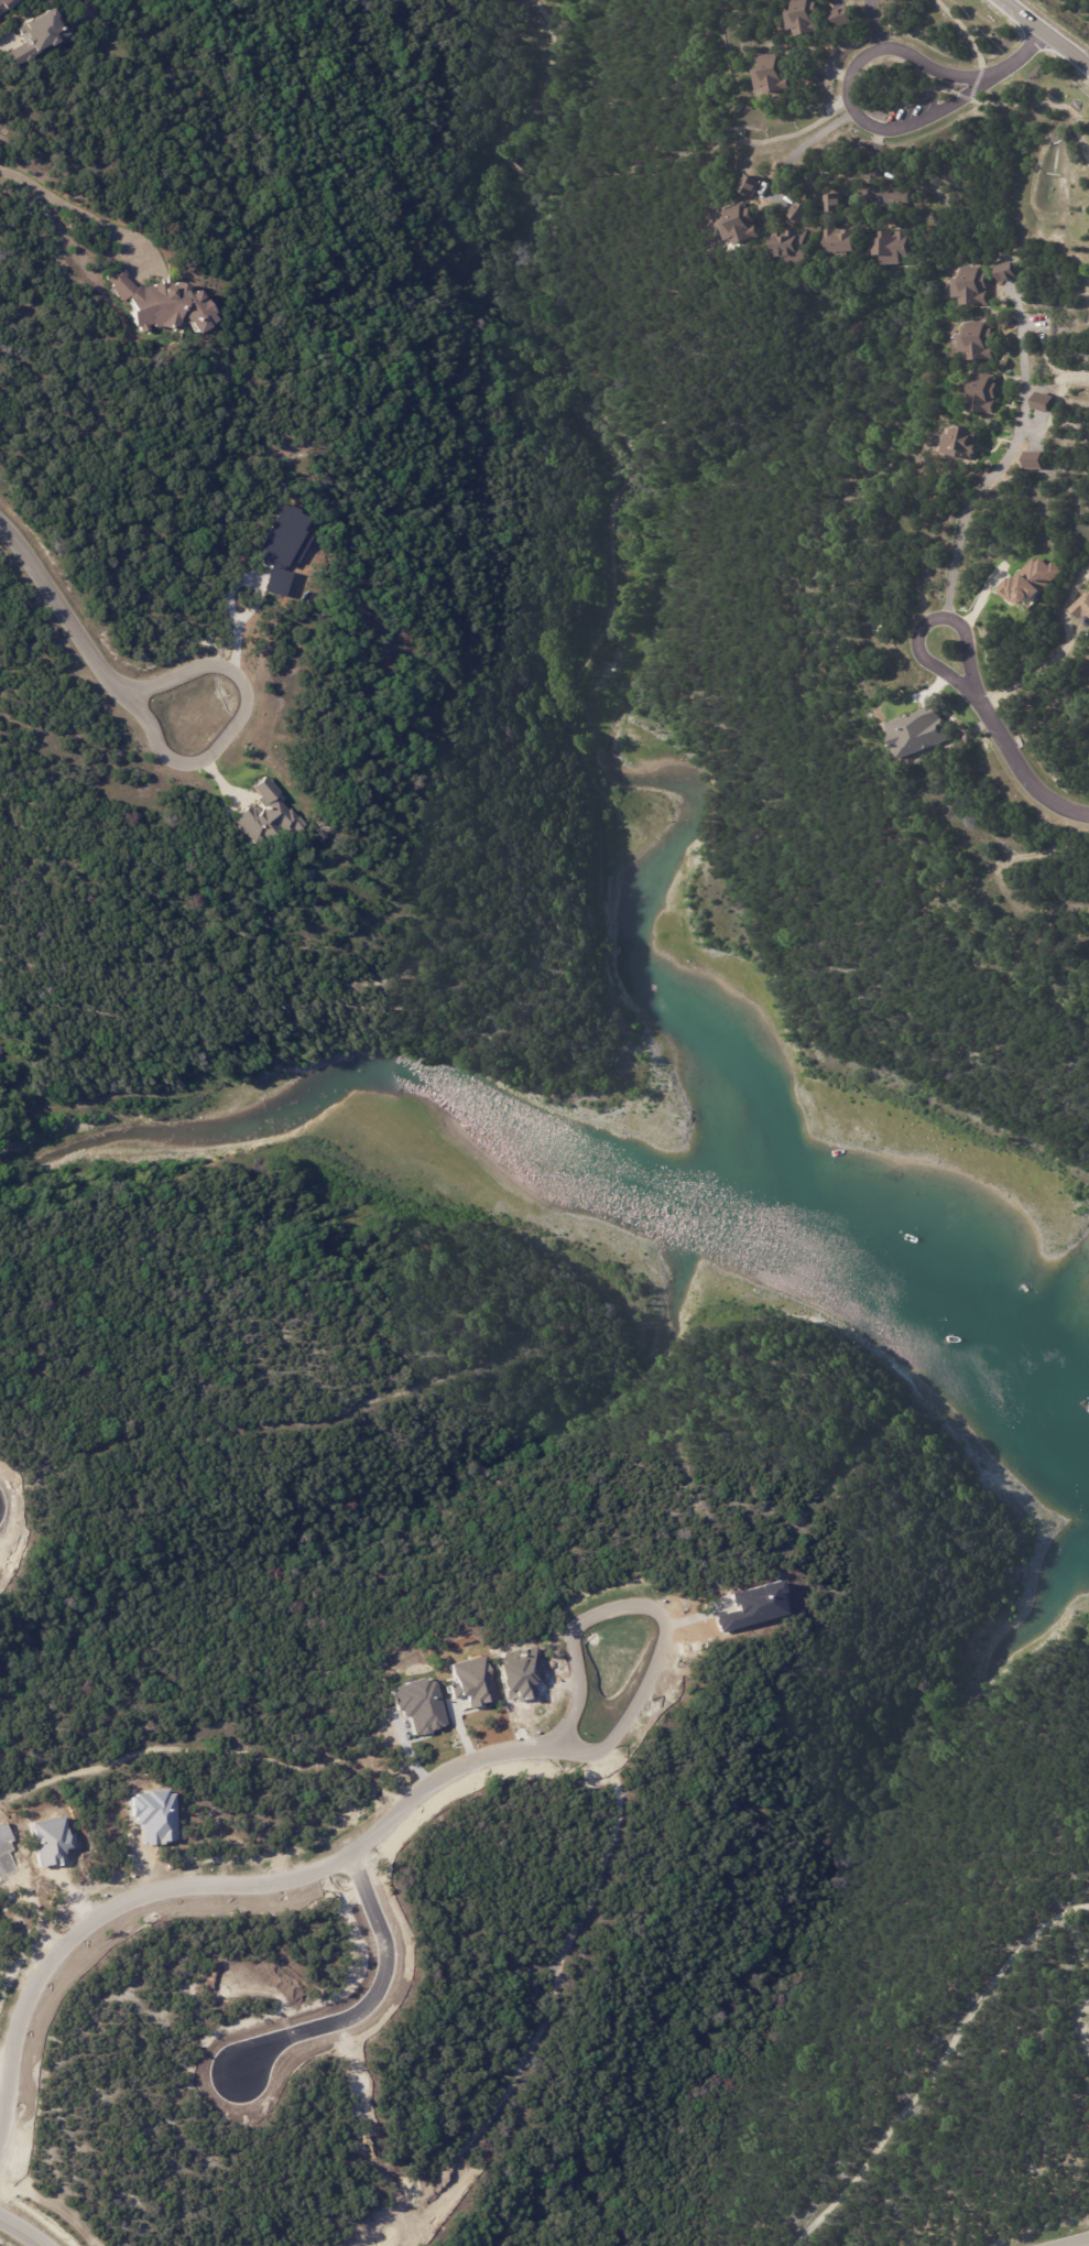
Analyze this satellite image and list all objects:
building: (8, 6)
building: (849, 15)
building: (810, 17)
road: (874, 24)
road: (1046, 34)
building: (35, 35)
road: (7, 37)
road: (1024, 56)
building: (778, 74)
road: (852, 94)
road: (805, 142)
road: (873, 161)
building: (756, 184)
building: (905, 196)
road: (64, 202)
building: (839, 202)
building: (807, 211)
building: (749, 225)
building: (849, 242)
building: (896, 246)
building: (802, 248)
building: (1011, 272)
building: (977, 286)
building: (162, 303)
building: (983, 341)
road: (1075, 377)
building: (987, 393)
building: (1048, 402)
building: (966, 442)
road: (1003, 458)
building: (1038, 460)
building: (1037, 582)
road: (63, 608)
building: (1085, 609)
road: (926, 623)
road: (237, 631)
road: (1046, 664)
road: (236, 724)
road: (1020, 767)
building: (266, 816)
building: (2, 1050)
road: (411, 1809)
road: (21, 2233)
road: (1071, 2242)

